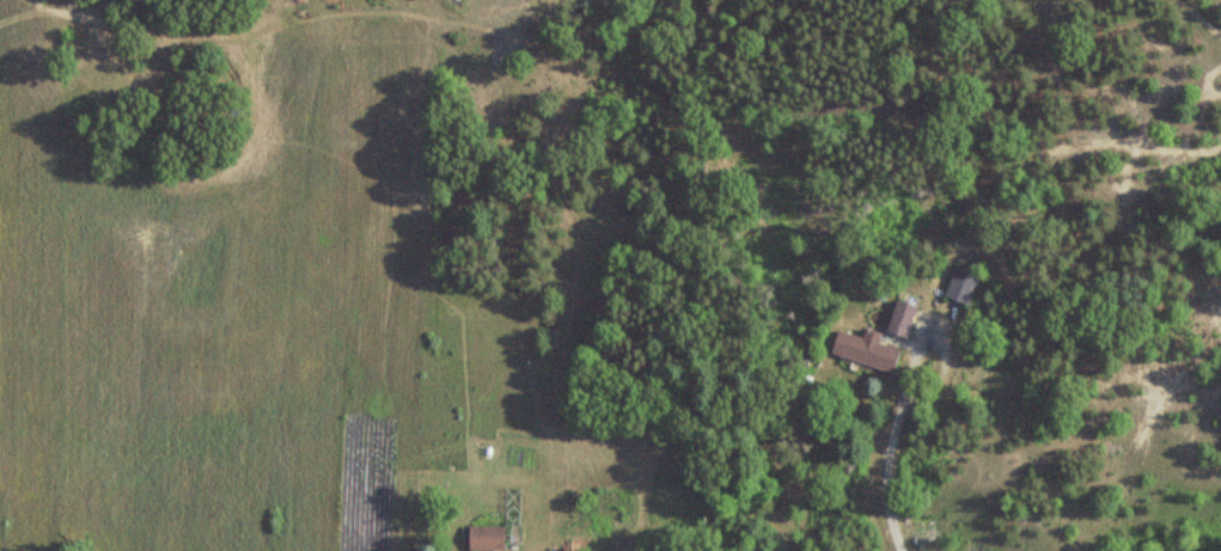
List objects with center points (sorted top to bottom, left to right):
building: (966, 284)
building: (906, 319)
building: (869, 350)
road: (881, 472)
building: (490, 539)
building: (580, 546)

